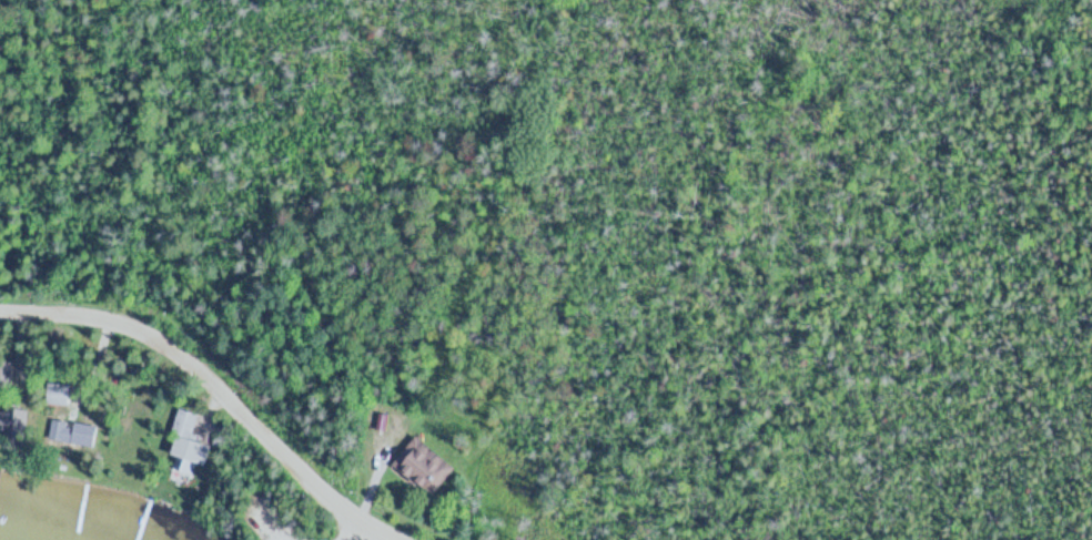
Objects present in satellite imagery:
road: (549, 48)
road: (215, 386)
building: (58, 391)
building: (11, 424)
building: (191, 438)
building: (427, 463)
parking lot: (269, 522)
road: (345, 528)

